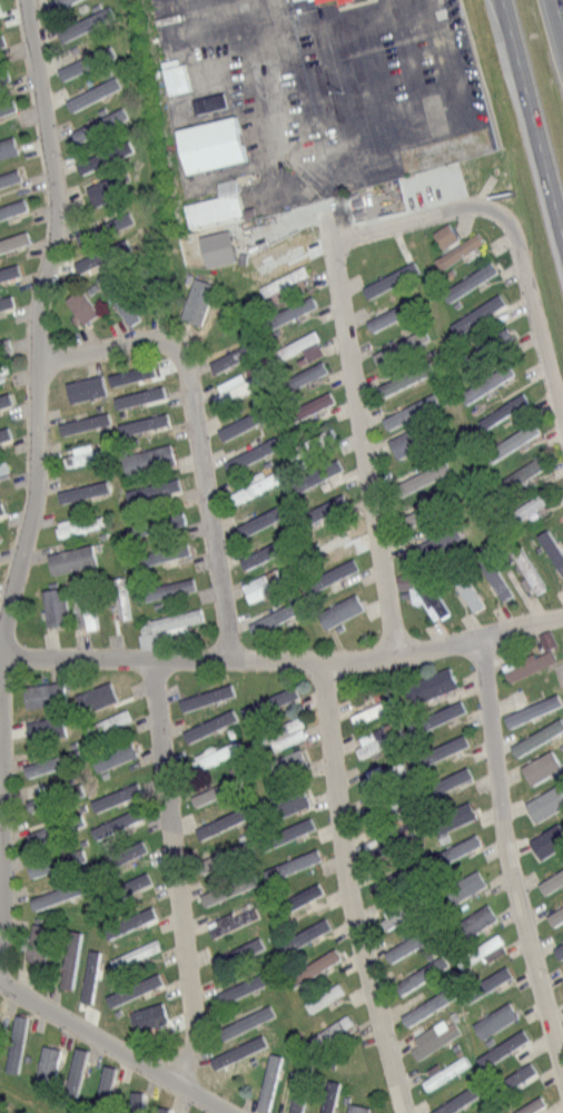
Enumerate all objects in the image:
building: (339, 0)
building: (297, 1)
building: (59, 2)
road: (559, 14)
building: (86, 22)
road: (562, 24)
building: (1, 40)
building: (1, 43)
building: (86, 56)
building: (3, 72)
road: (481, 73)
building: (171, 75)
road: (270, 75)
building: (93, 92)
building: (207, 100)
building: (8, 107)
road: (532, 119)
building: (100, 122)
building: (207, 142)
building: (9, 146)
building: (105, 156)
building: (12, 176)
building: (107, 187)
building: (213, 204)
building: (13, 207)
road: (428, 217)
building: (112, 219)
building: (443, 234)
building: (14, 239)
building: (214, 246)
building: (277, 249)
building: (461, 250)
building: (102, 257)
building: (9, 273)
building: (384, 277)
building: (471, 278)
building: (285, 279)
building: (197, 301)
building: (4, 302)
building: (82, 306)
building: (122, 307)
building: (290, 311)
building: (396, 312)
building: (480, 313)
road: (537, 332)
building: (8, 336)
building: (297, 344)
building: (3, 345)
road: (105, 345)
building: (487, 345)
building: (397, 347)
building: (310, 349)
building: (235, 355)
building: (3, 366)
building: (1, 372)
building: (306, 372)
building: (135, 373)
building: (407, 380)
building: (484, 382)
building: (82, 386)
building: (238, 390)
building: (137, 395)
building: (4, 398)
building: (310, 405)
road: (36, 408)
building: (504, 410)
building: (413, 411)
building: (87, 421)
building: (140, 422)
building: (238, 422)
building: (3, 433)
building: (412, 439)
building: (313, 441)
building: (512, 441)
road: (364, 445)
building: (88, 455)
building: (149, 459)
building: (4, 466)
building: (317, 472)
building: (421, 473)
building: (517, 475)
building: (255, 487)
building: (156, 489)
building: (80, 490)
road: (209, 498)
building: (3, 501)
building: (322, 508)
building: (428, 508)
building: (0, 509)
building: (524, 510)
building: (174, 519)
building: (258, 519)
building: (80, 525)
building: (330, 539)
building: (425, 542)
building: (162, 552)
building: (554, 552)
building: (265, 553)
building: (72, 556)
building: (529, 569)
building: (332, 572)
building: (492, 575)
building: (269, 585)
building: (165, 588)
building: (435, 590)
building: (419, 592)
building: (466, 592)
building: (119, 597)
building: (89, 603)
building: (57, 605)
building: (342, 609)
building: (83, 610)
building: (177, 619)
building: (275, 619)
road: (521, 628)
building: (545, 638)
road: (241, 656)
building: (531, 667)
building: (431, 686)
building: (47, 692)
building: (280, 695)
building: (93, 696)
building: (204, 696)
building: (537, 706)
building: (376, 710)
building: (439, 716)
building: (107, 721)
building: (42, 723)
building: (209, 723)
building: (50, 730)
building: (279, 735)
building: (535, 736)
building: (381, 742)
building: (441, 748)
building: (113, 754)
building: (216, 754)
building: (52, 760)
building: (285, 764)
building: (543, 767)
building: (383, 775)
building: (451, 778)
building: (117, 786)
building: (221, 788)
building: (55, 794)
building: (113, 795)
building: (290, 800)
building: (546, 802)
building: (389, 807)
building: (224, 815)
building: (454, 816)
building: (117, 823)
building: (56, 828)
building: (285, 831)
building: (549, 840)
building: (391, 843)
building: (453, 850)
road: (506, 853)
building: (225, 857)
building: (125, 859)
building: (56, 863)
building: (294, 863)
road: (170, 873)
building: (135, 881)
building: (553, 883)
building: (463, 885)
building: (227, 889)
road: (349, 890)
building: (59, 892)
building: (298, 898)
building: (408, 912)
building: (391, 915)
building: (555, 916)
building: (475, 918)
building: (236, 920)
building: (129, 922)
building: (306, 932)
building: (411, 940)
building: (39, 943)
building: (248, 947)
building: (561, 947)
building: (482, 949)
building: (136, 953)
building: (71, 958)
building: (314, 965)
building: (424, 973)
building: (88, 975)
building: (562, 981)
building: (245, 986)
building: (138, 988)
building: (325, 996)
building: (428, 1004)
building: (496, 1018)
building: (244, 1021)
building: (329, 1031)
building: (435, 1041)
building: (18, 1045)
road: (117, 1046)
building: (505, 1046)
building: (236, 1051)
building: (241, 1056)
building: (50, 1065)
building: (72, 1071)
building: (445, 1072)
building: (103, 1077)
building: (516, 1077)
building: (266, 1081)
building: (299, 1090)
building: (134, 1096)
building: (330, 1097)
building: (454, 1100)
building: (531, 1104)
building: (357, 1107)
building: (164, 1110)
building: (22, 1111)

